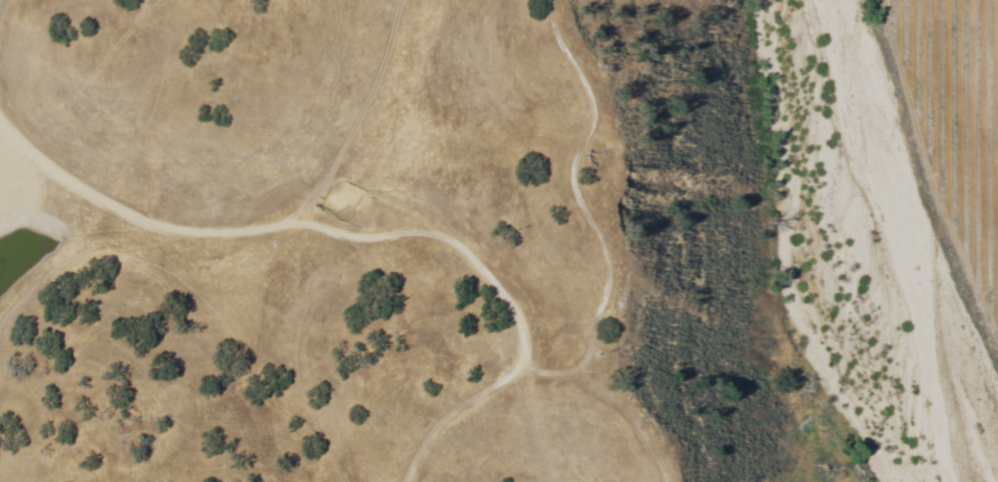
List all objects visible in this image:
river: (878, 244)

